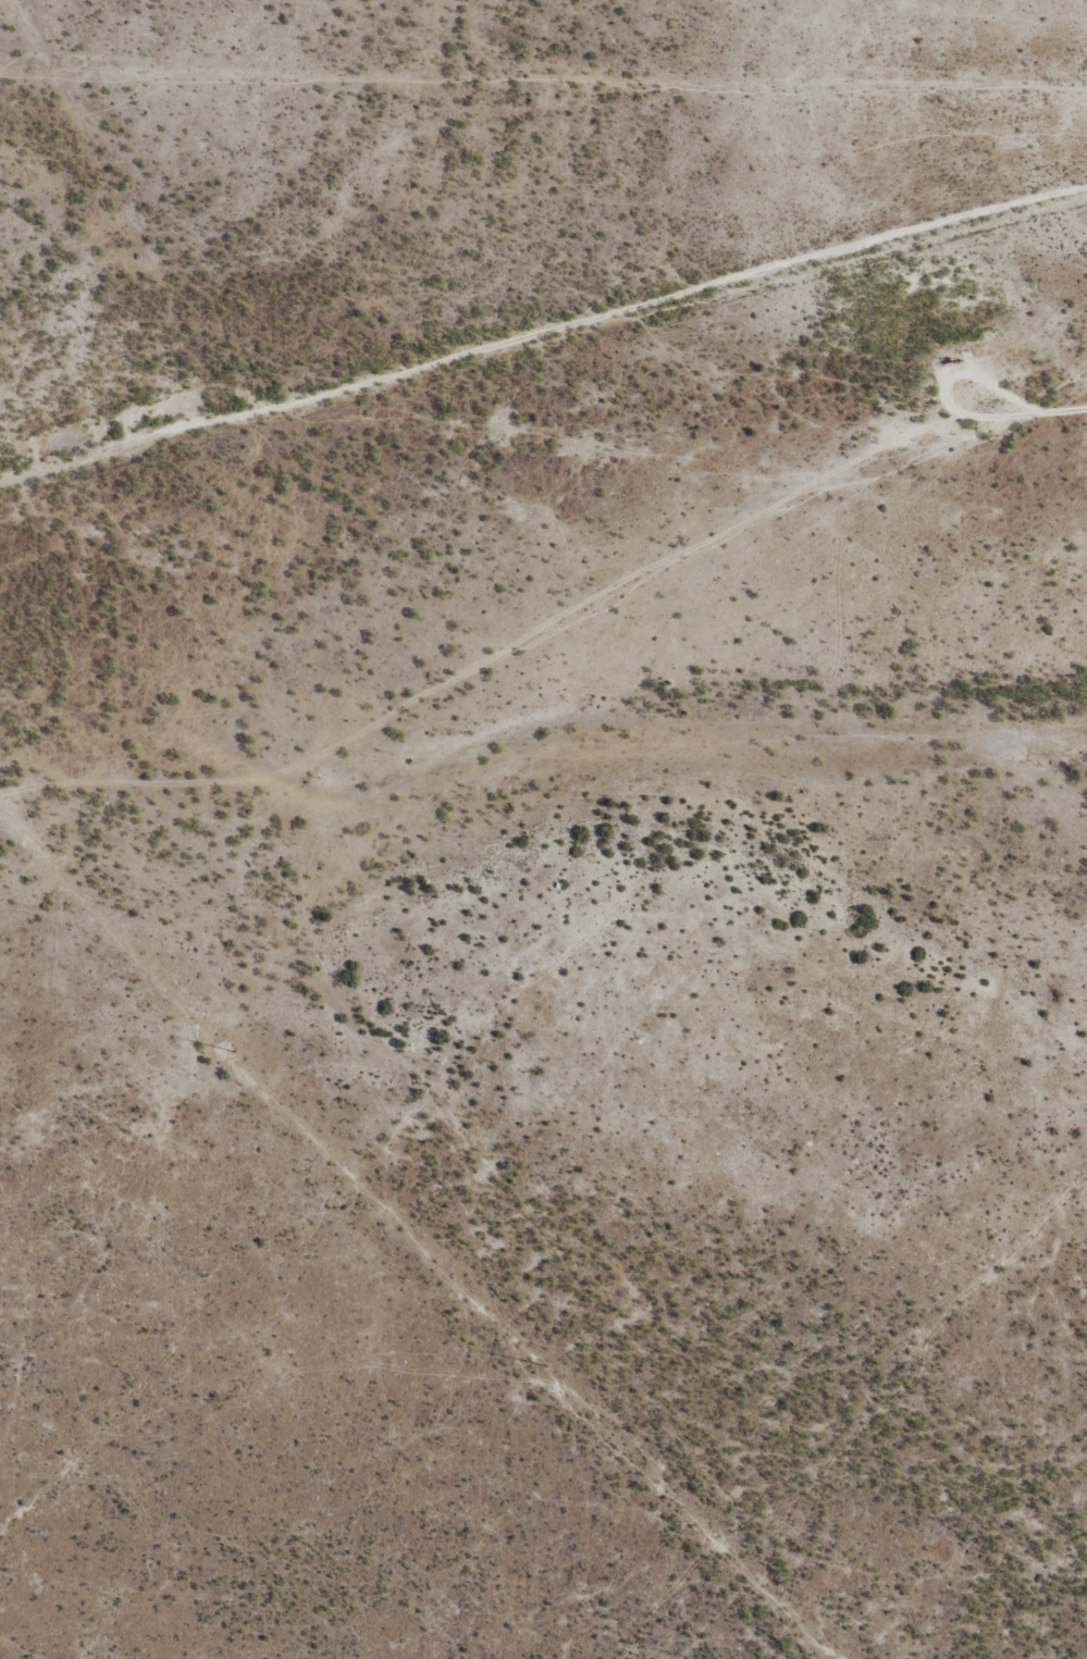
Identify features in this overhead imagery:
road: (547, 334)
power tower: (236, 1052)
power tower: (546, 1366)

